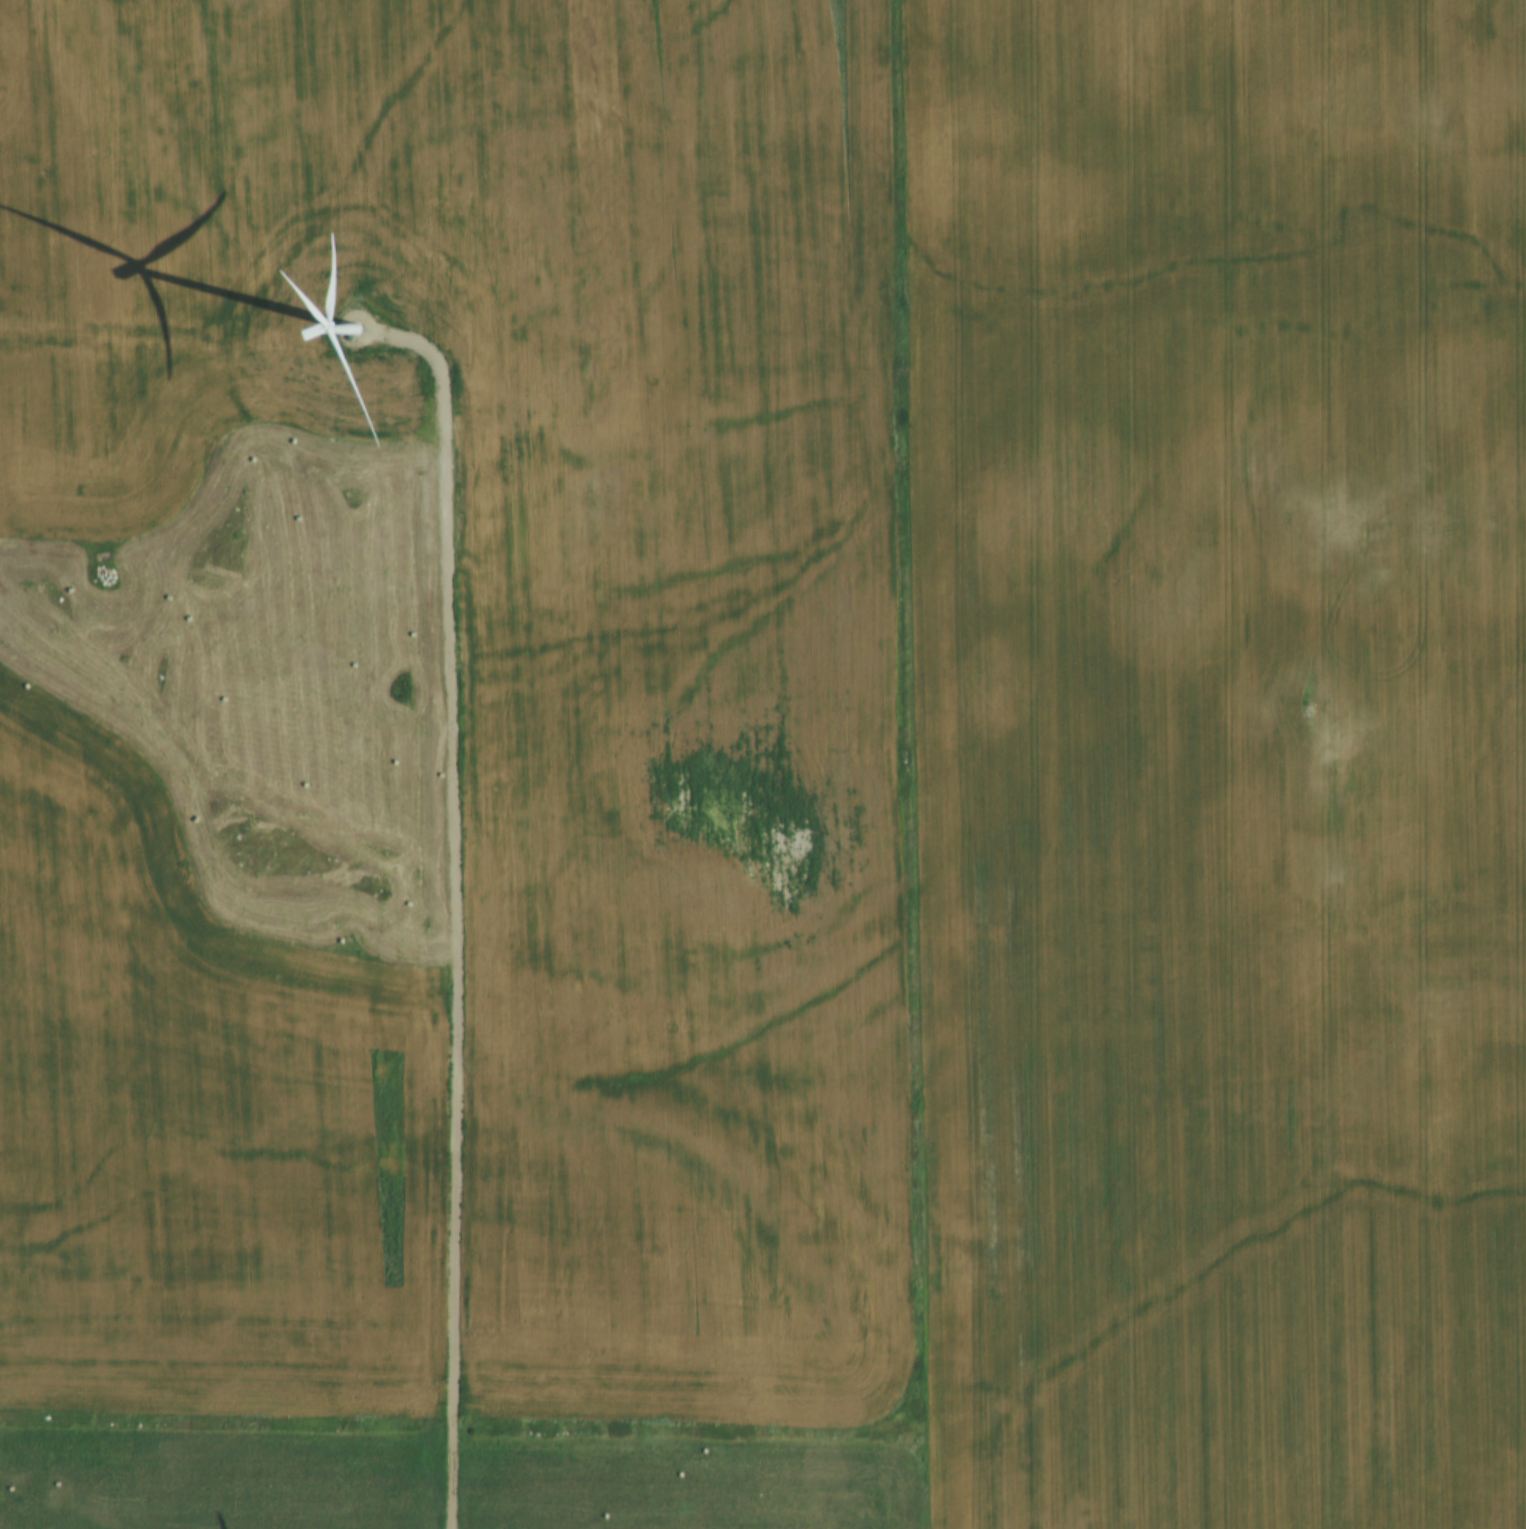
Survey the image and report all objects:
wind turbine: (361, 338)

